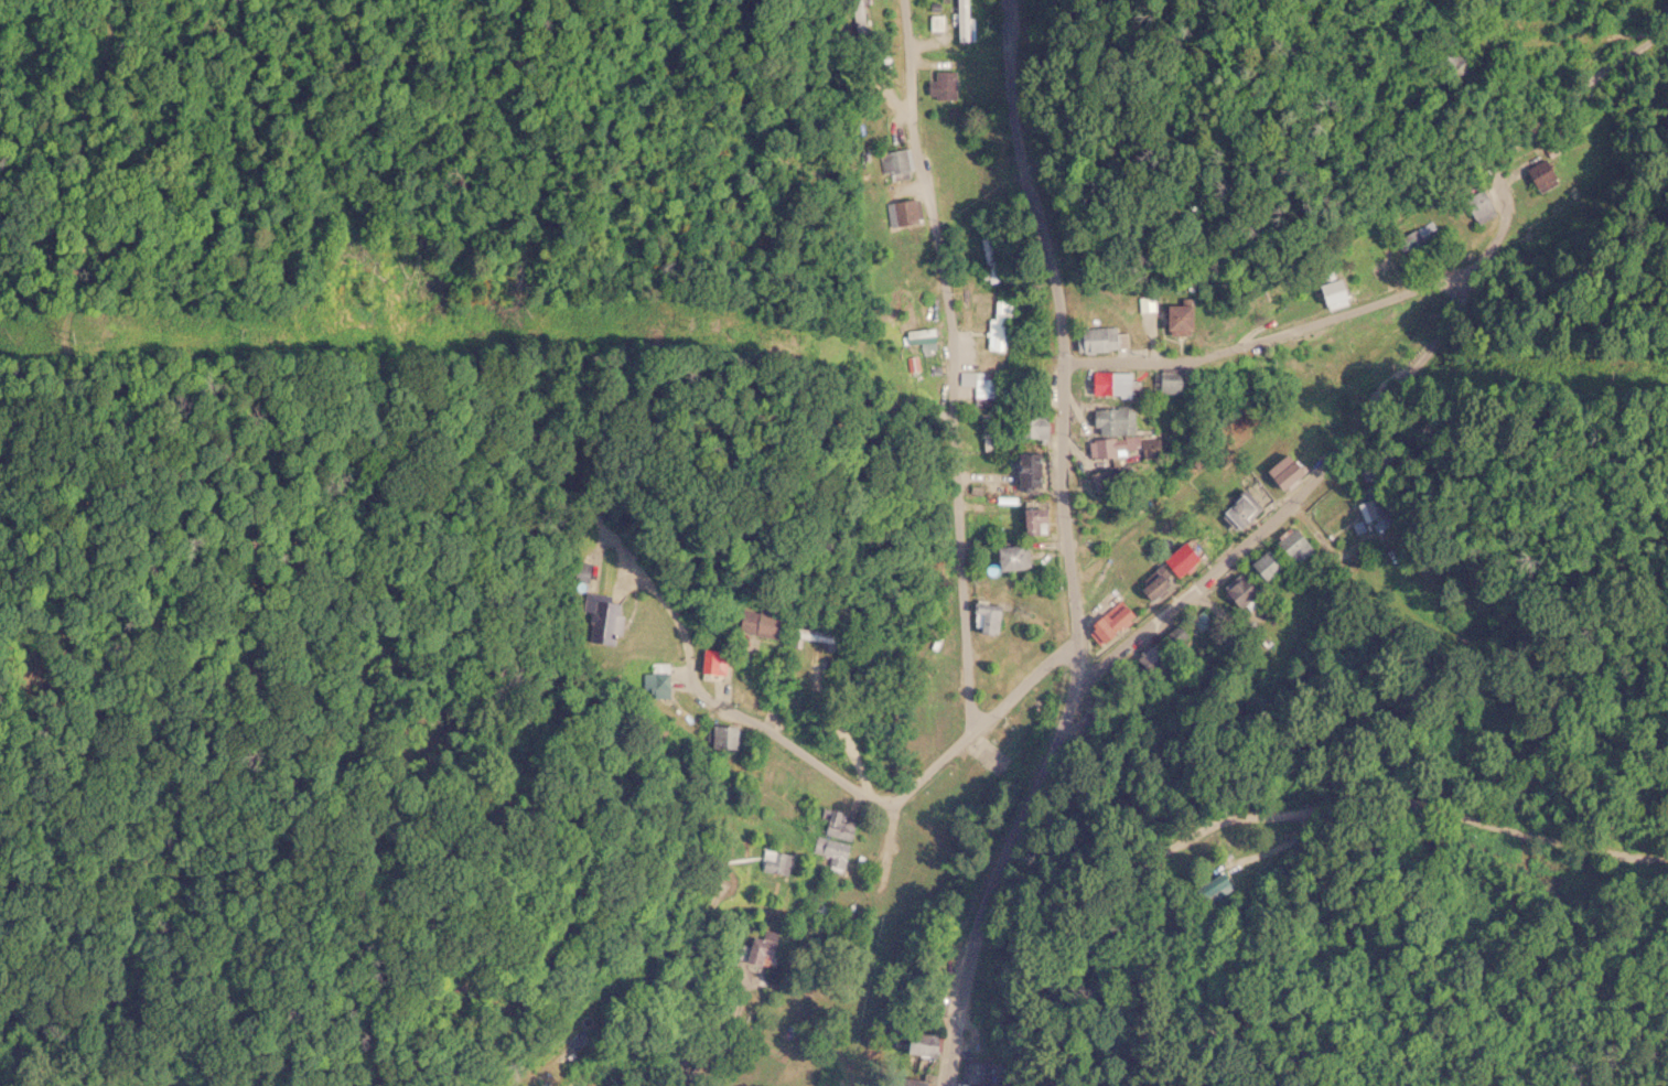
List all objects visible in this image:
building: (858, 14)
building: (961, 20)
building: (935, 22)
building: (880, 62)
building: (1448, 65)
building: (940, 86)
road: (1528, 107)
building: (892, 161)
building: (1539, 176)
building: (1475, 206)
building: (902, 211)
building: (1417, 235)
building: (989, 258)
building: (1387, 273)
building: (1327, 292)
building: (1172, 320)
building: (999, 326)
road: (1277, 333)
building: (1098, 340)
road: (954, 362)
building: (1163, 383)
building: (1110, 384)
building: (983, 385)
building: (1108, 420)
building: (1030, 426)
building: (984, 432)
building: (1107, 449)
building: (1025, 470)
building: (1280, 472)
road: (1660, 484)
building: (1368, 507)
building: (1238, 509)
building: (1031, 520)
building: (1292, 544)
road: (1059, 549)
building: (1008, 556)
building: (1265, 566)
building: (1170, 569)
building: (581, 570)
road: (1203, 591)
building: (1239, 591)
building: (602, 616)
building: (988, 620)
building: (753, 622)
building: (1108, 622)
building: (813, 635)
building: (710, 662)
building: (656, 680)
road: (1018, 705)
building: (721, 736)
road: (841, 775)
road: (1265, 813)
building: (836, 824)
building: (829, 851)
building: (772, 862)
building: (1206, 889)
building: (757, 949)
road: (621, 1033)
building: (917, 1049)
road: (713, 1051)
building: (906, 1082)

